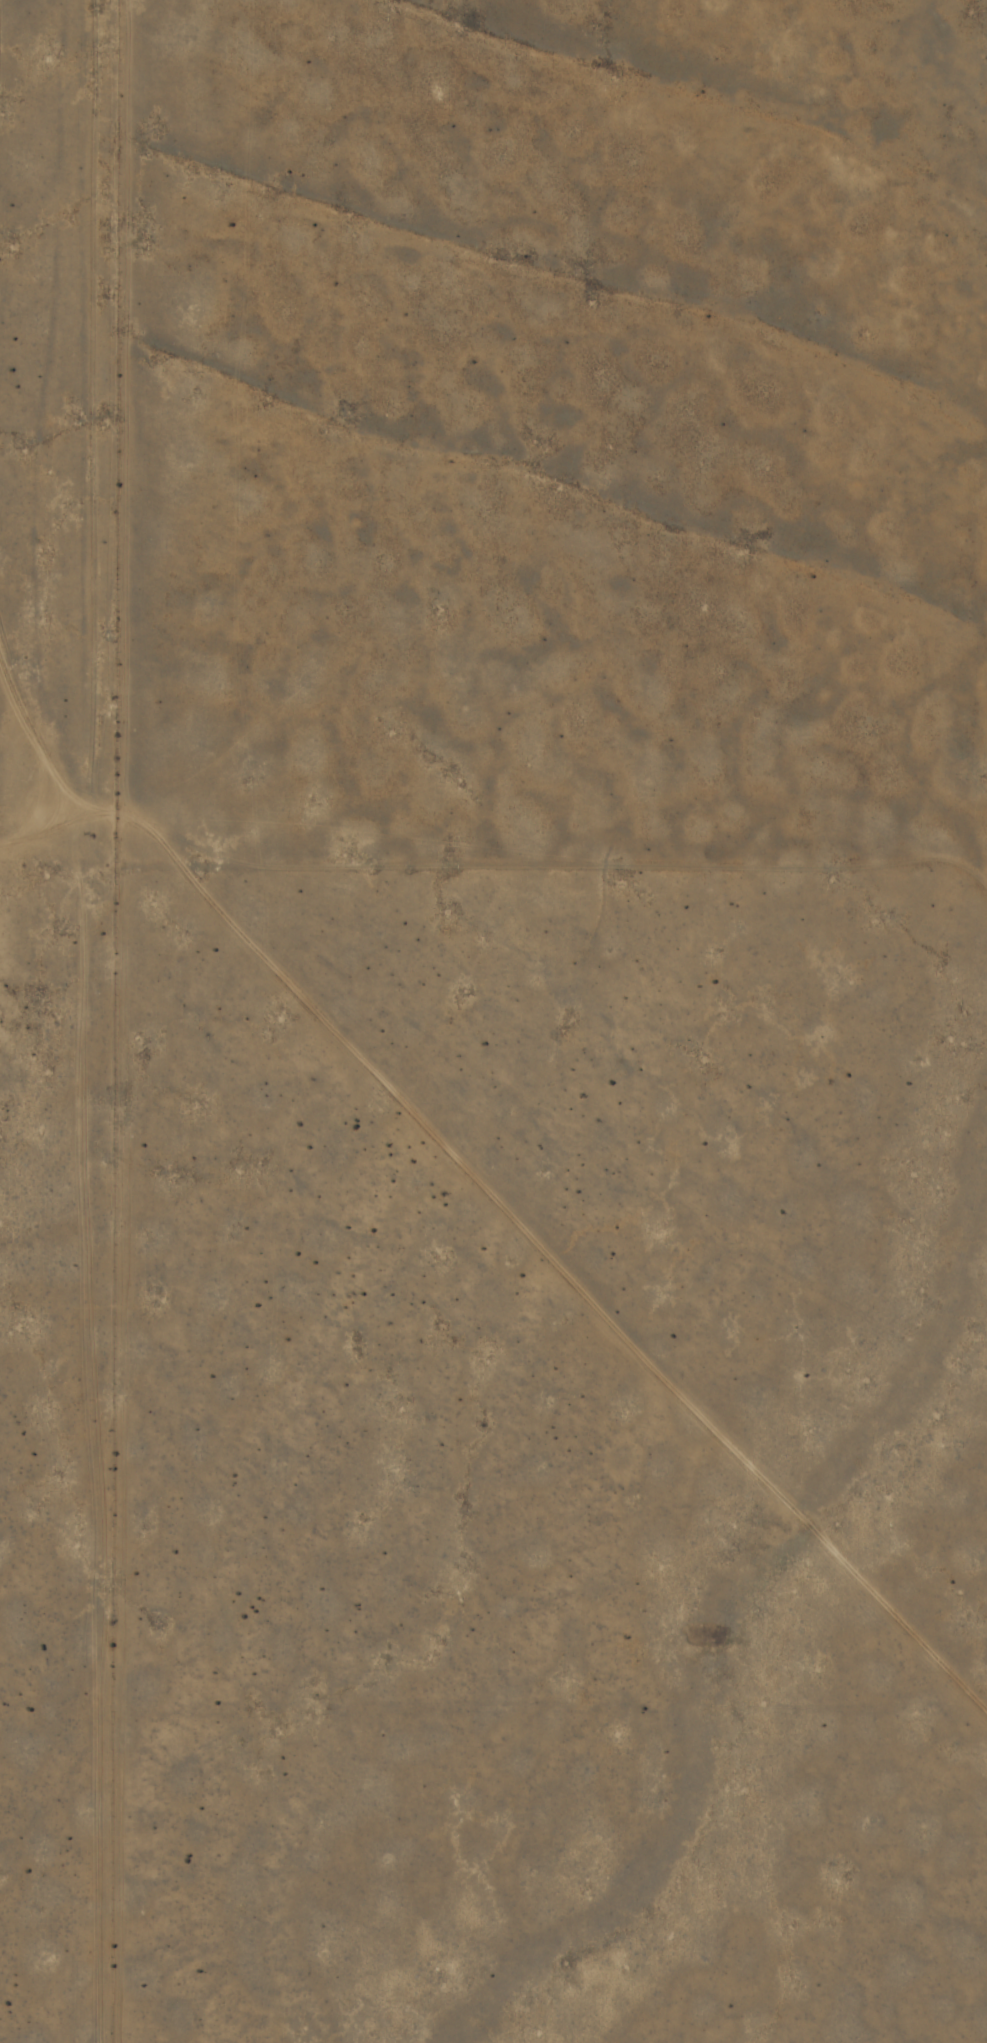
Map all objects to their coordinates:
road: (47, 427)
road: (65, 813)
road: (14, 1120)
road: (542, 1166)

